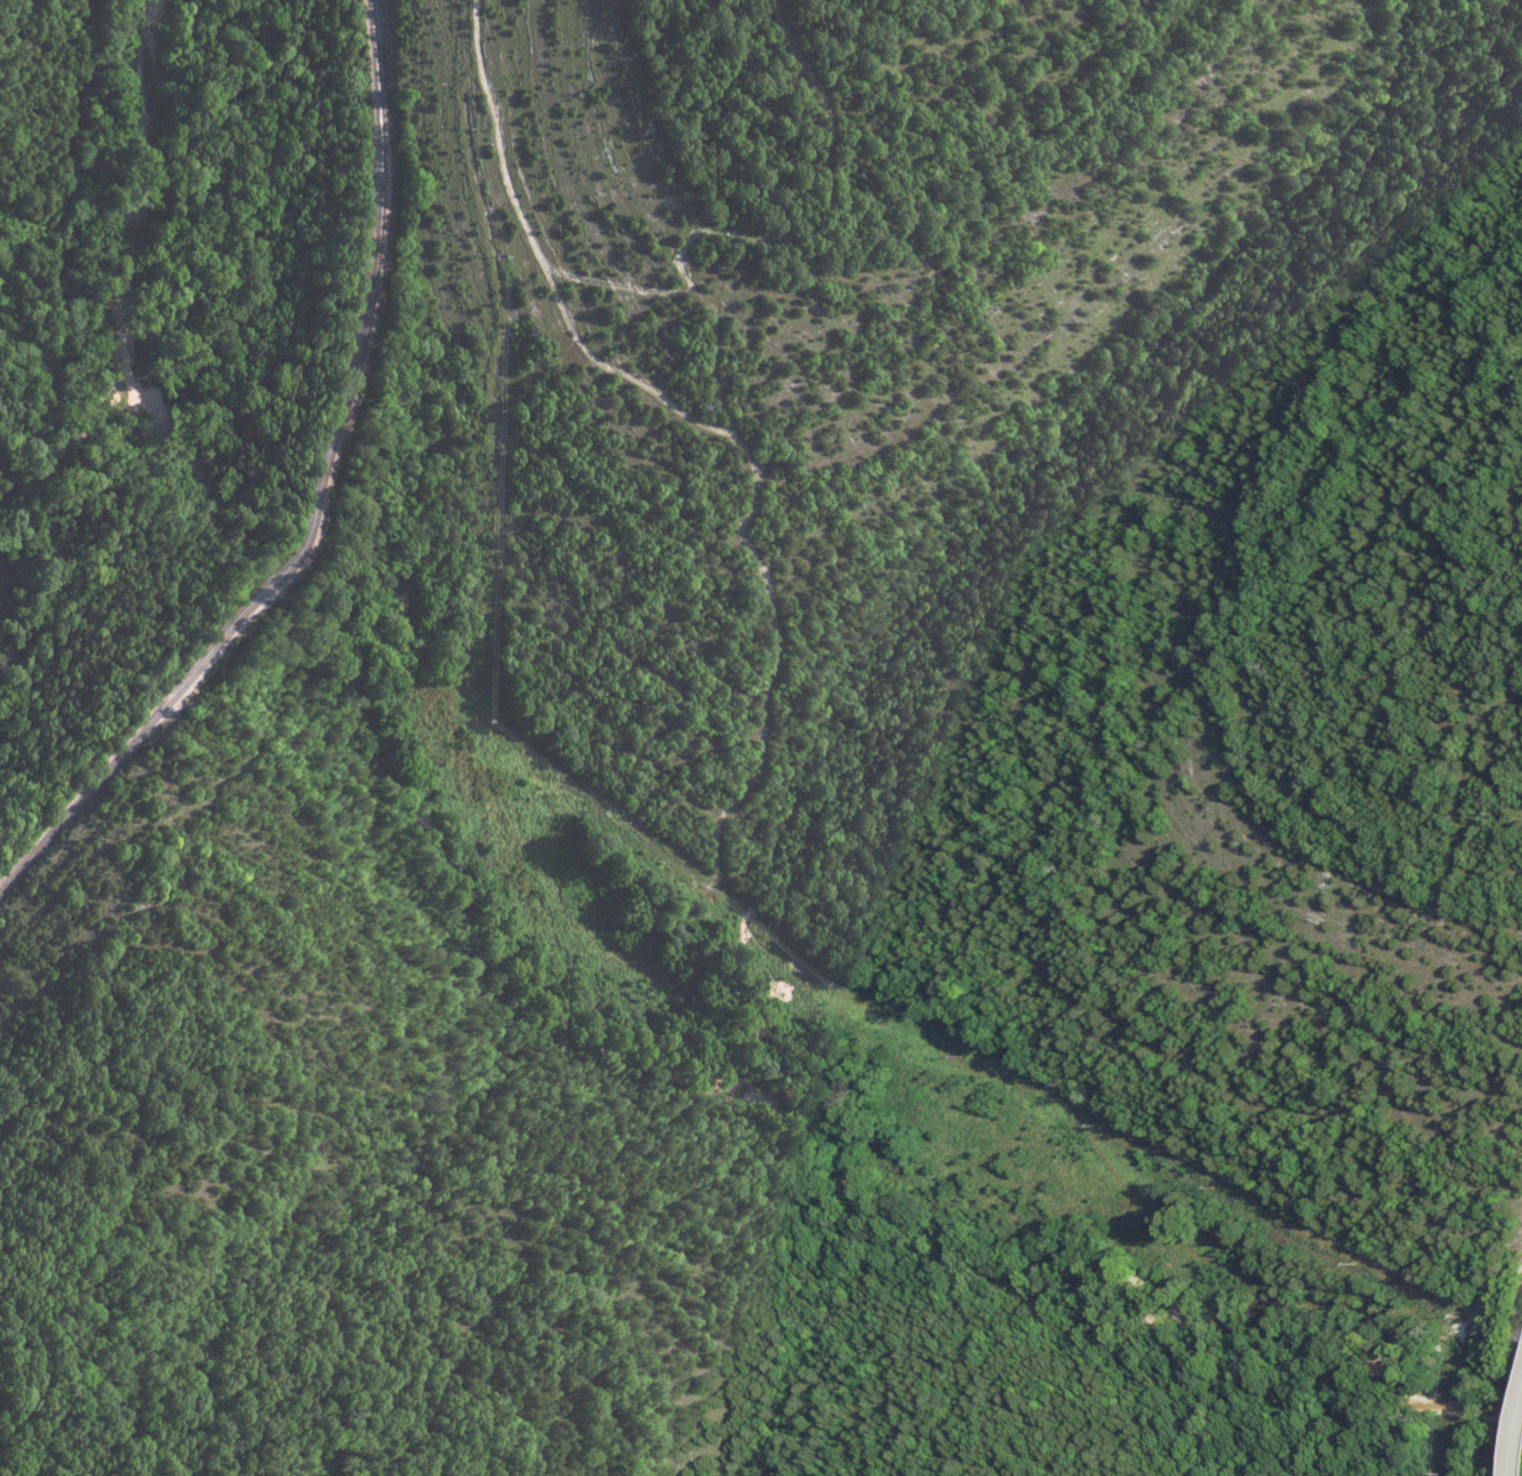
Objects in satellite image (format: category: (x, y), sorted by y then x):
railway: (311, 494)

